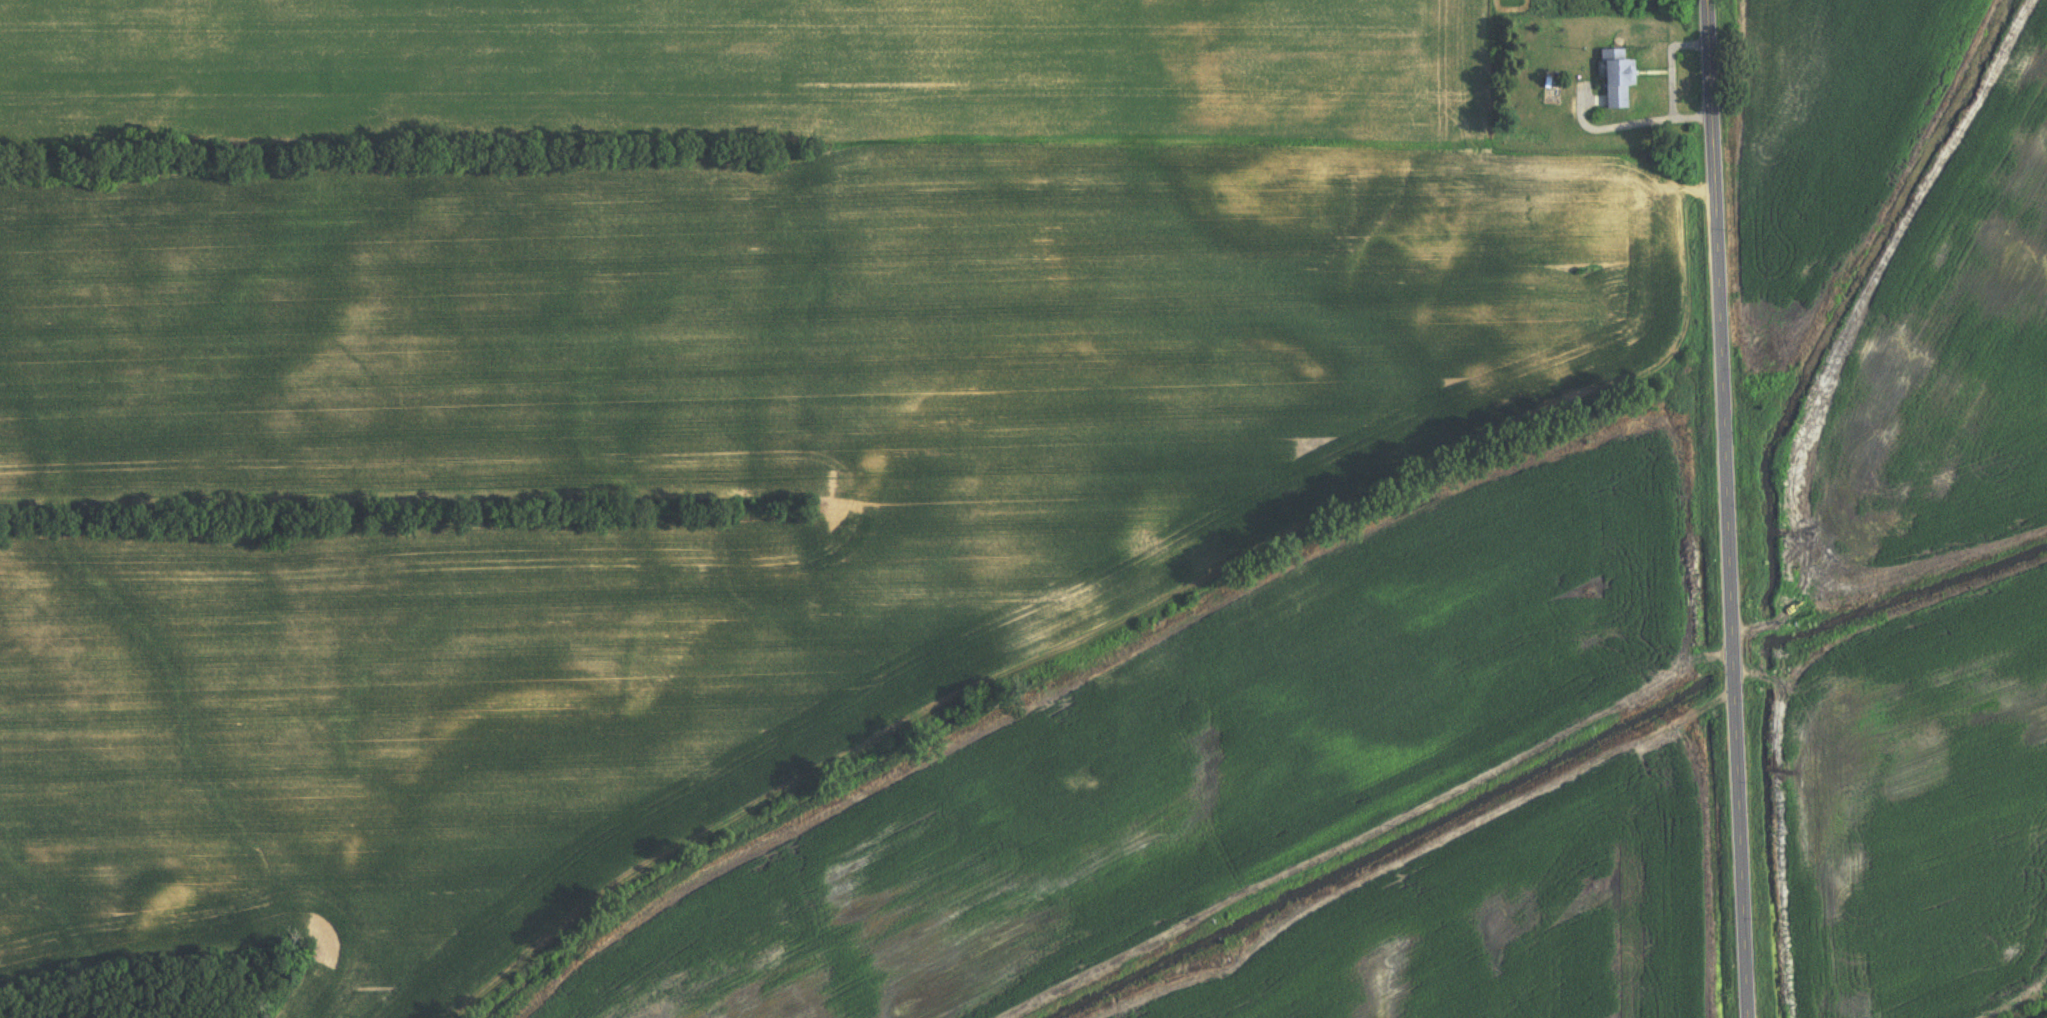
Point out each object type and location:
building: (1622, 80)
road: (1670, 86)
road: (1731, 509)

